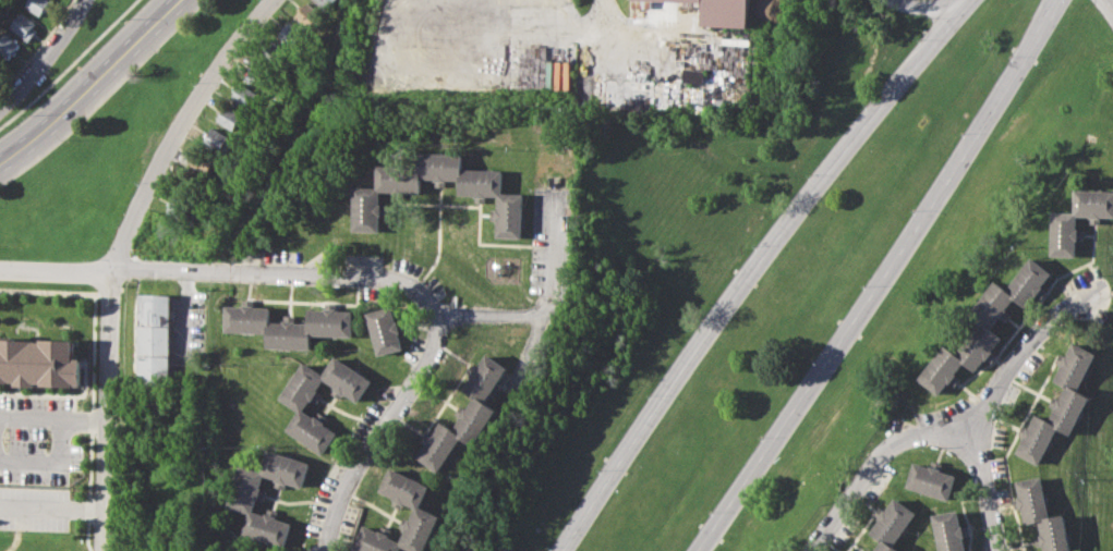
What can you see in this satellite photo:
building: (325, 3)
building: (639, 3)
street lamp: (1072, 3)
building: (38, 4)
street lamp: (92, 5)
road: (920, 5)
road: (1108, 5)
building: (724, 12)
building: (304, 14)
street lamp: (928, 17)
building: (23, 25)
building: (292, 37)
road: (632, 40)
building: (8, 44)
street lamp: (159, 49)
street lamp: (1008, 54)
road: (49, 60)
road: (69, 65)
street lamp: (50, 71)
building: (261, 73)
building: (691, 75)
street lamp: (194, 82)
road: (87, 83)
building: (612, 91)
building: (244, 96)
street lamp: (863, 103)
building: (230, 118)
park: (104, 124)
road: (183, 130)
street lamp: (960, 132)
street lamp: (66, 138)
building: (216, 139)
building: (203, 164)
street lamp: (807, 174)
street lamp: (136, 182)
building: (491, 193)
building: (181, 208)
street lamp: (910, 209)
building: (1078, 220)
street lamp: (752, 245)
street lamp: (86, 259)
road: (753, 264)
park: (784, 269)
road: (59, 273)
street lamp: (1103, 273)
road: (881, 277)
road: (258, 278)
street lamp: (861, 285)
road: (58, 291)
road: (544, 313)
street lamp: (695, 319)
building: (984, 323)
building: (290, 325)
building: (385, 330)
street lamp: (1023, 330)
building: (155, 338)
street lamp: (811, 359)
building: (38, 362)
street lamp: (978, 387)
street lamp: (645, 394)
building: (1062, 402)
road: (982, 404)
building: (299, 405)
road: (395, 411)
road: (28, 412)
building: (467, 412)
road: (108, 413)
road: (83, 415)
street lamp: (759, 436)
street lamp: (939, 446)
road: (47, 453)
street lamp: (991, 455)
road: (874, 464)
street lamp: (595, 468)
building: (932, 479)
building: (246, 493)
street lamp: (707, 511)
building: (421, 512)
building: (1042, 514)
building: (893, 524)
building: (949, 530)
street lamp: (546, 546)
building: (868, 550)

